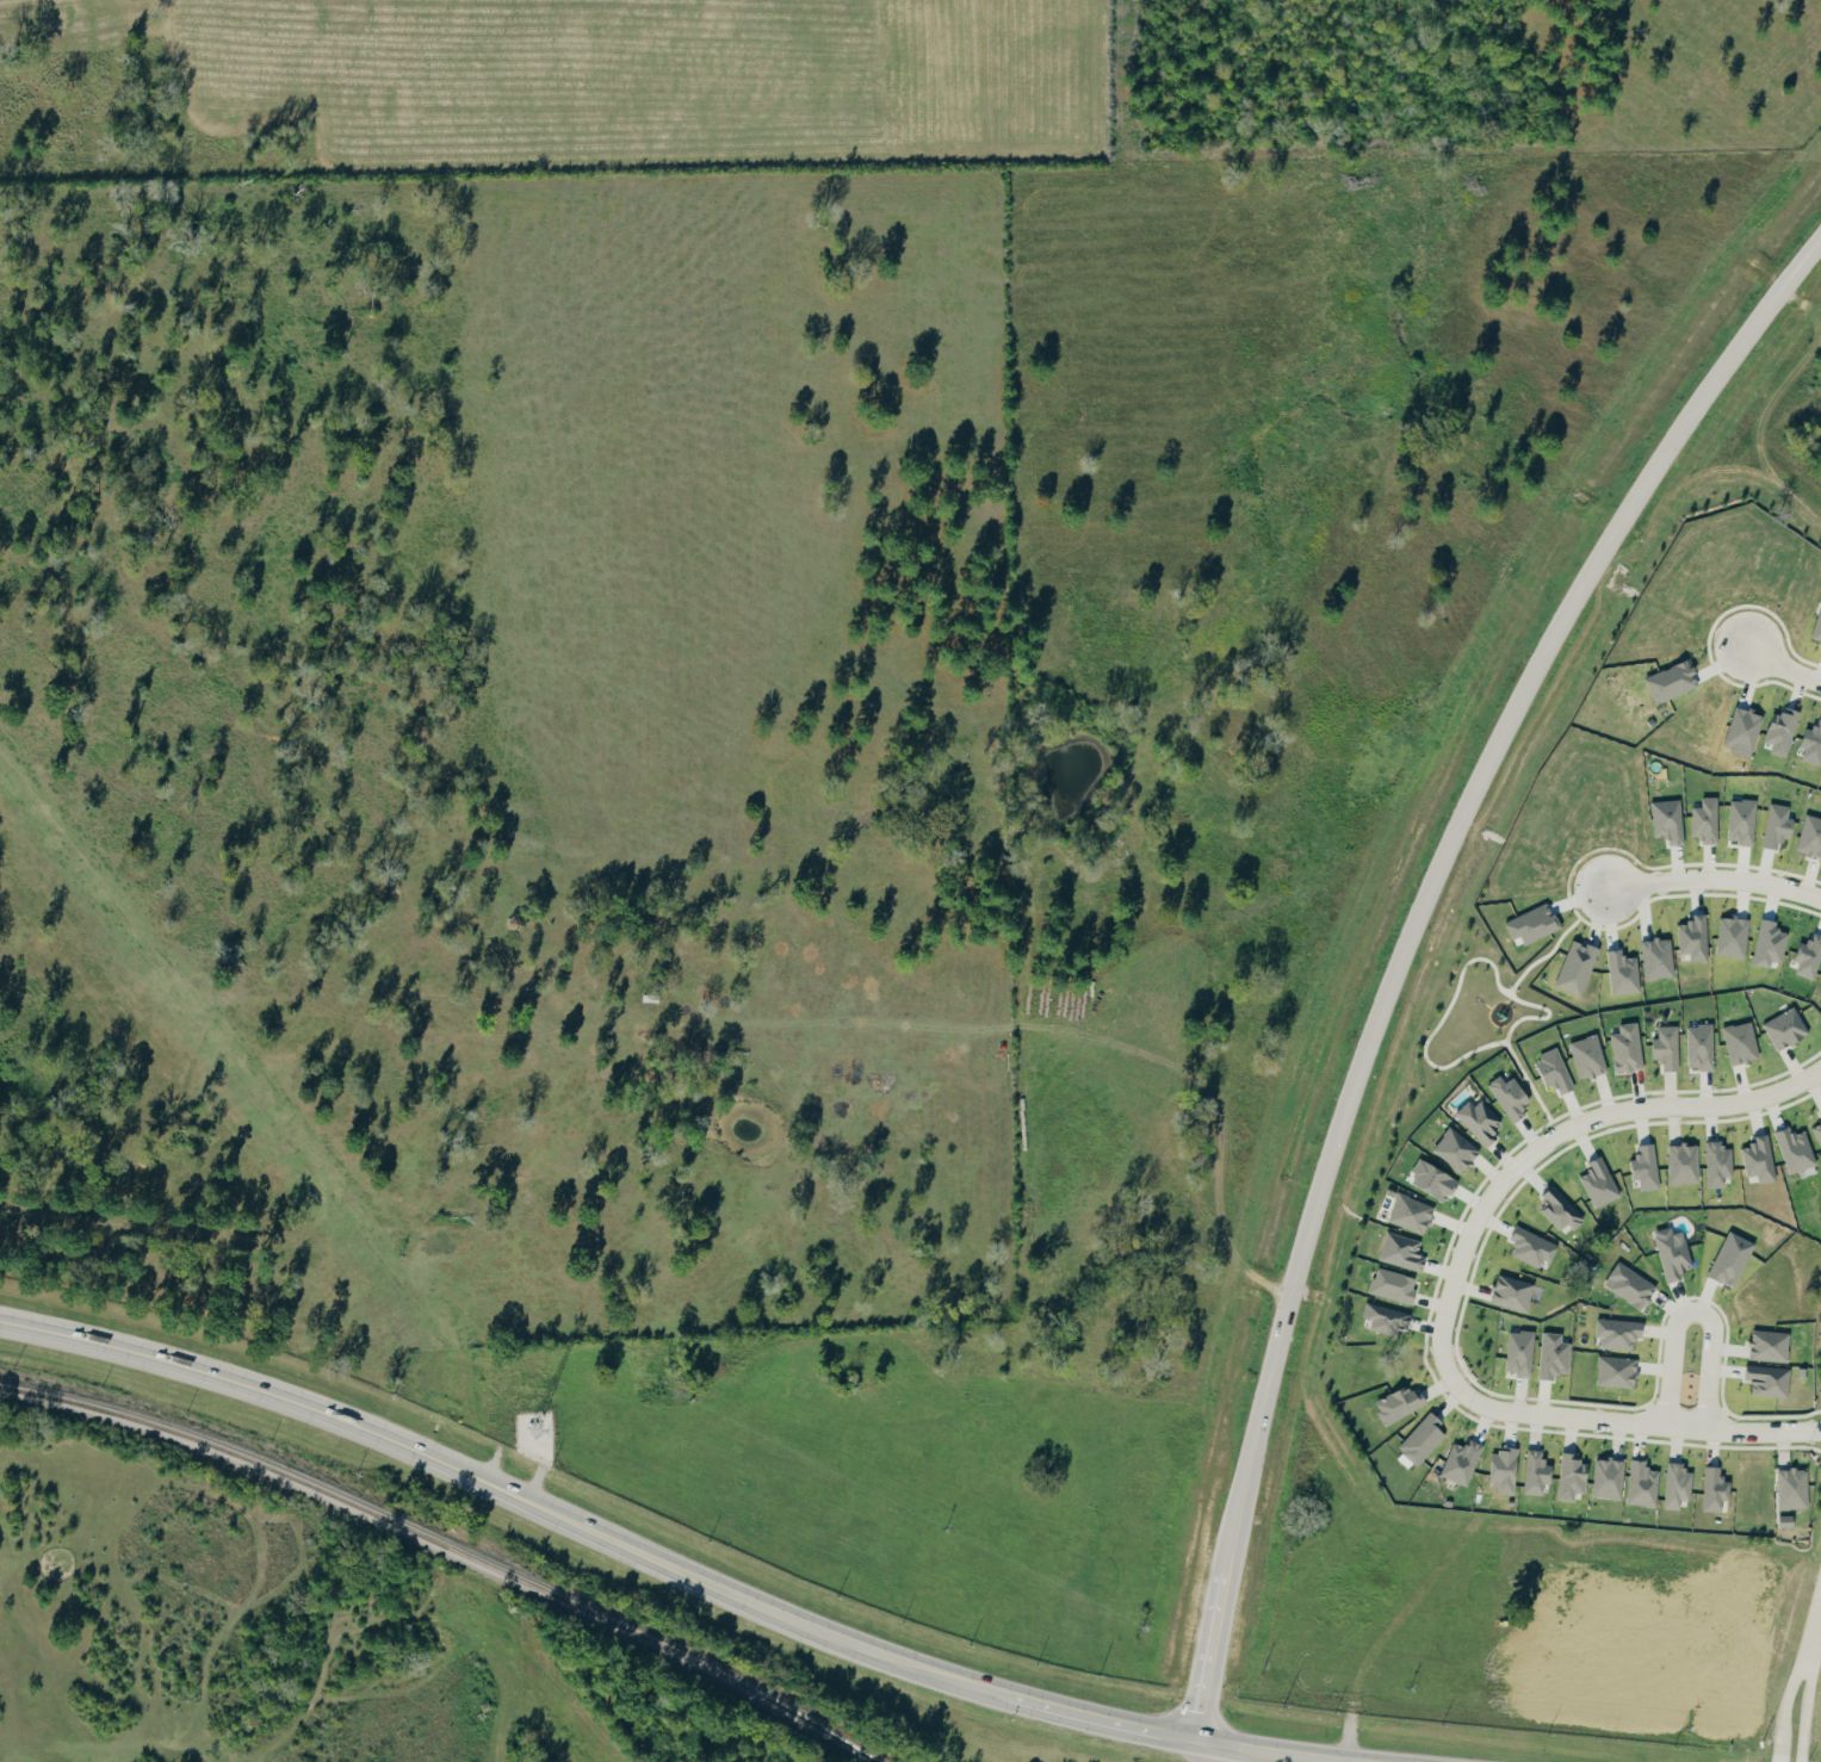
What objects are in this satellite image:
building: (1817, 631)
road: (1789, 666)
building: (1674, 682)
building: (1708, 820)
building: (1780, 825)
road: (1443, 864)
road: (1716, 879)
road: (1541, 956)
building: (1660, 957)
road: (1494, 973)
building: (1789, 1029)
building: (1743, 1043)
building: (1670, 1047)
building: (1703, 1047)
building: (1629, 1048)
building: (1591, 1056)
building: (1557, 1071)
building: (1512, 1097)
building: (1484, 1121)
building: (1819, 1130)
building: (1458, 1150)
building: (1797, 1150)
building: (1685, 1164)
building: (1721, 1164)
building: (1648, 1168)
building: (1437, 1180)
building: (1602, 1183)
building: (1562, 1210)
building: (1413, 1214)
building: (1535, 1247)
building: (1404, 1252)
building: (1676, 1257)
building: (1734, 1259)
building: (1395, 1286)
building: (1634, 1286)
road: (1449, 1291)
building: (1516, 1293)
road: (1693, 1311)
building: (1389, 1319)
building: (1622, 1333)
building: (1771, 1346)
building: (1522, 1352)
building: (1556, 1355)
building: (1619, 1372)
building: (1771, 1381)
building: (1402, 1404)
building: (1425, 1439)
building: (1464, 1462)
building: (1507, 1470)
building: (1540, 1472)
building: (1574, 1477)
building: (1611, 1478)
building: (1645, 1484)
building: (1679, 1485)
building: (1795, 1488)
building: (1717, 1489)
road: (498, 1490)
building: (1789, 1521)
railway: (448, 1547)
road: (1813, 1636)
road: (1212, 1649)
road: (1783, 1711)
road: (1803, 1714)
road: (1089, 1717)
road: (1268, 1751)

